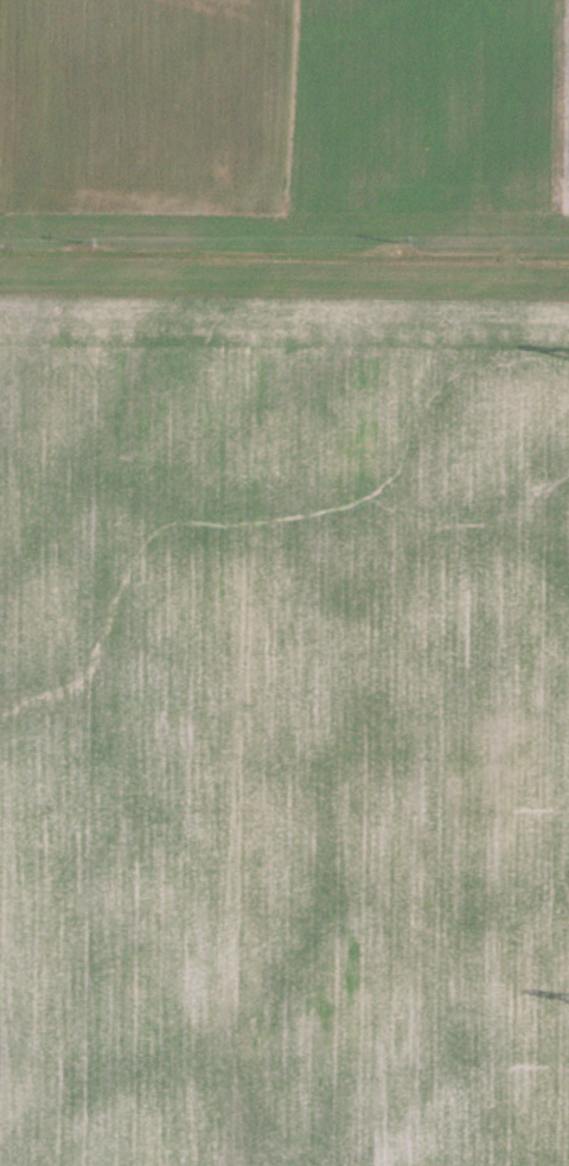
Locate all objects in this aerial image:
crop: (287, 104)
crop: (283, 733)

